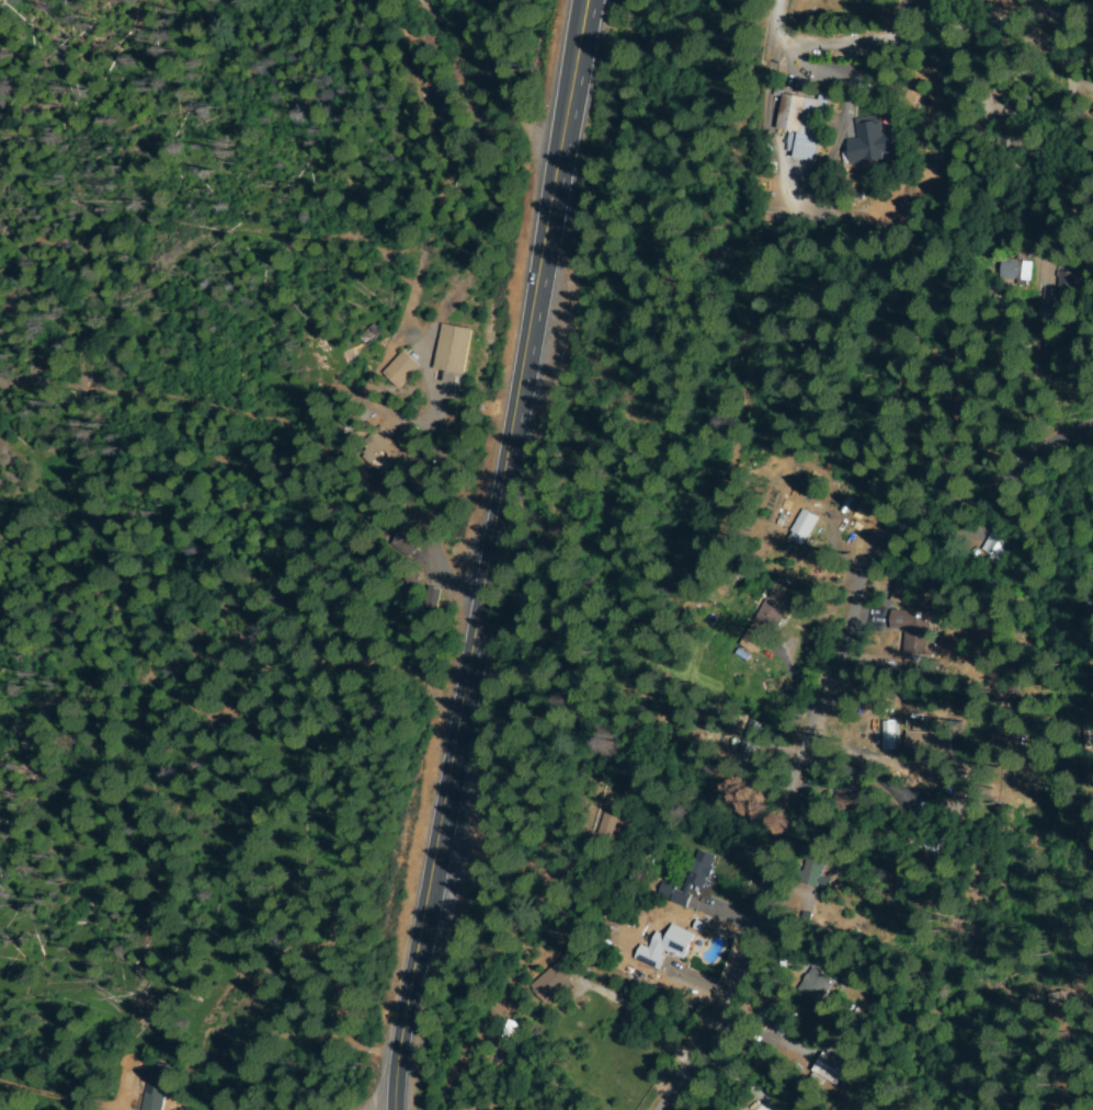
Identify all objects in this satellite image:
road: (921, 39)
road: (488, 84)
building: (445, 107)
building: (1092, 111)
building: (800, 122)
building: (1006, 134)
building: (865, 142)
building: (1015, 271)
building: (1067, 279)
building: (453, 350)
building: (400, 370)
building: (963, 415)
building: (383, 458)
building: (802, 527)
building: (406, 541)
building: (993, 548)
road: (493, 554)
building: (901, 591)
building: (431, 599)
building: (763, 620)
building: (913, 629)
road: (816, 709)
building: (751, 739)
building: (930, 743)
building: (847, 802)
building: (607, 824)
building: (936, 852)
building: (701, 870)
building: (809, 873)
building: (674, 896)
building: (668, 946)
building: (555, 981)
building: (816, 986)
building: (774, 1021)
building: (506, 1030)
building: (828, 1067)
building: (156, 1088)
road: (61, 1099)

